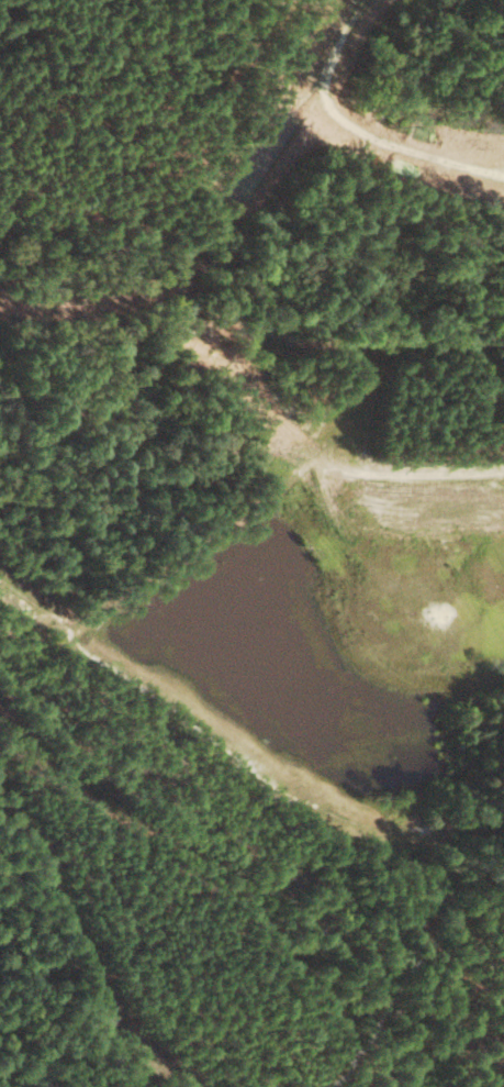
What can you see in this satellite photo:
road: (477, 876)

